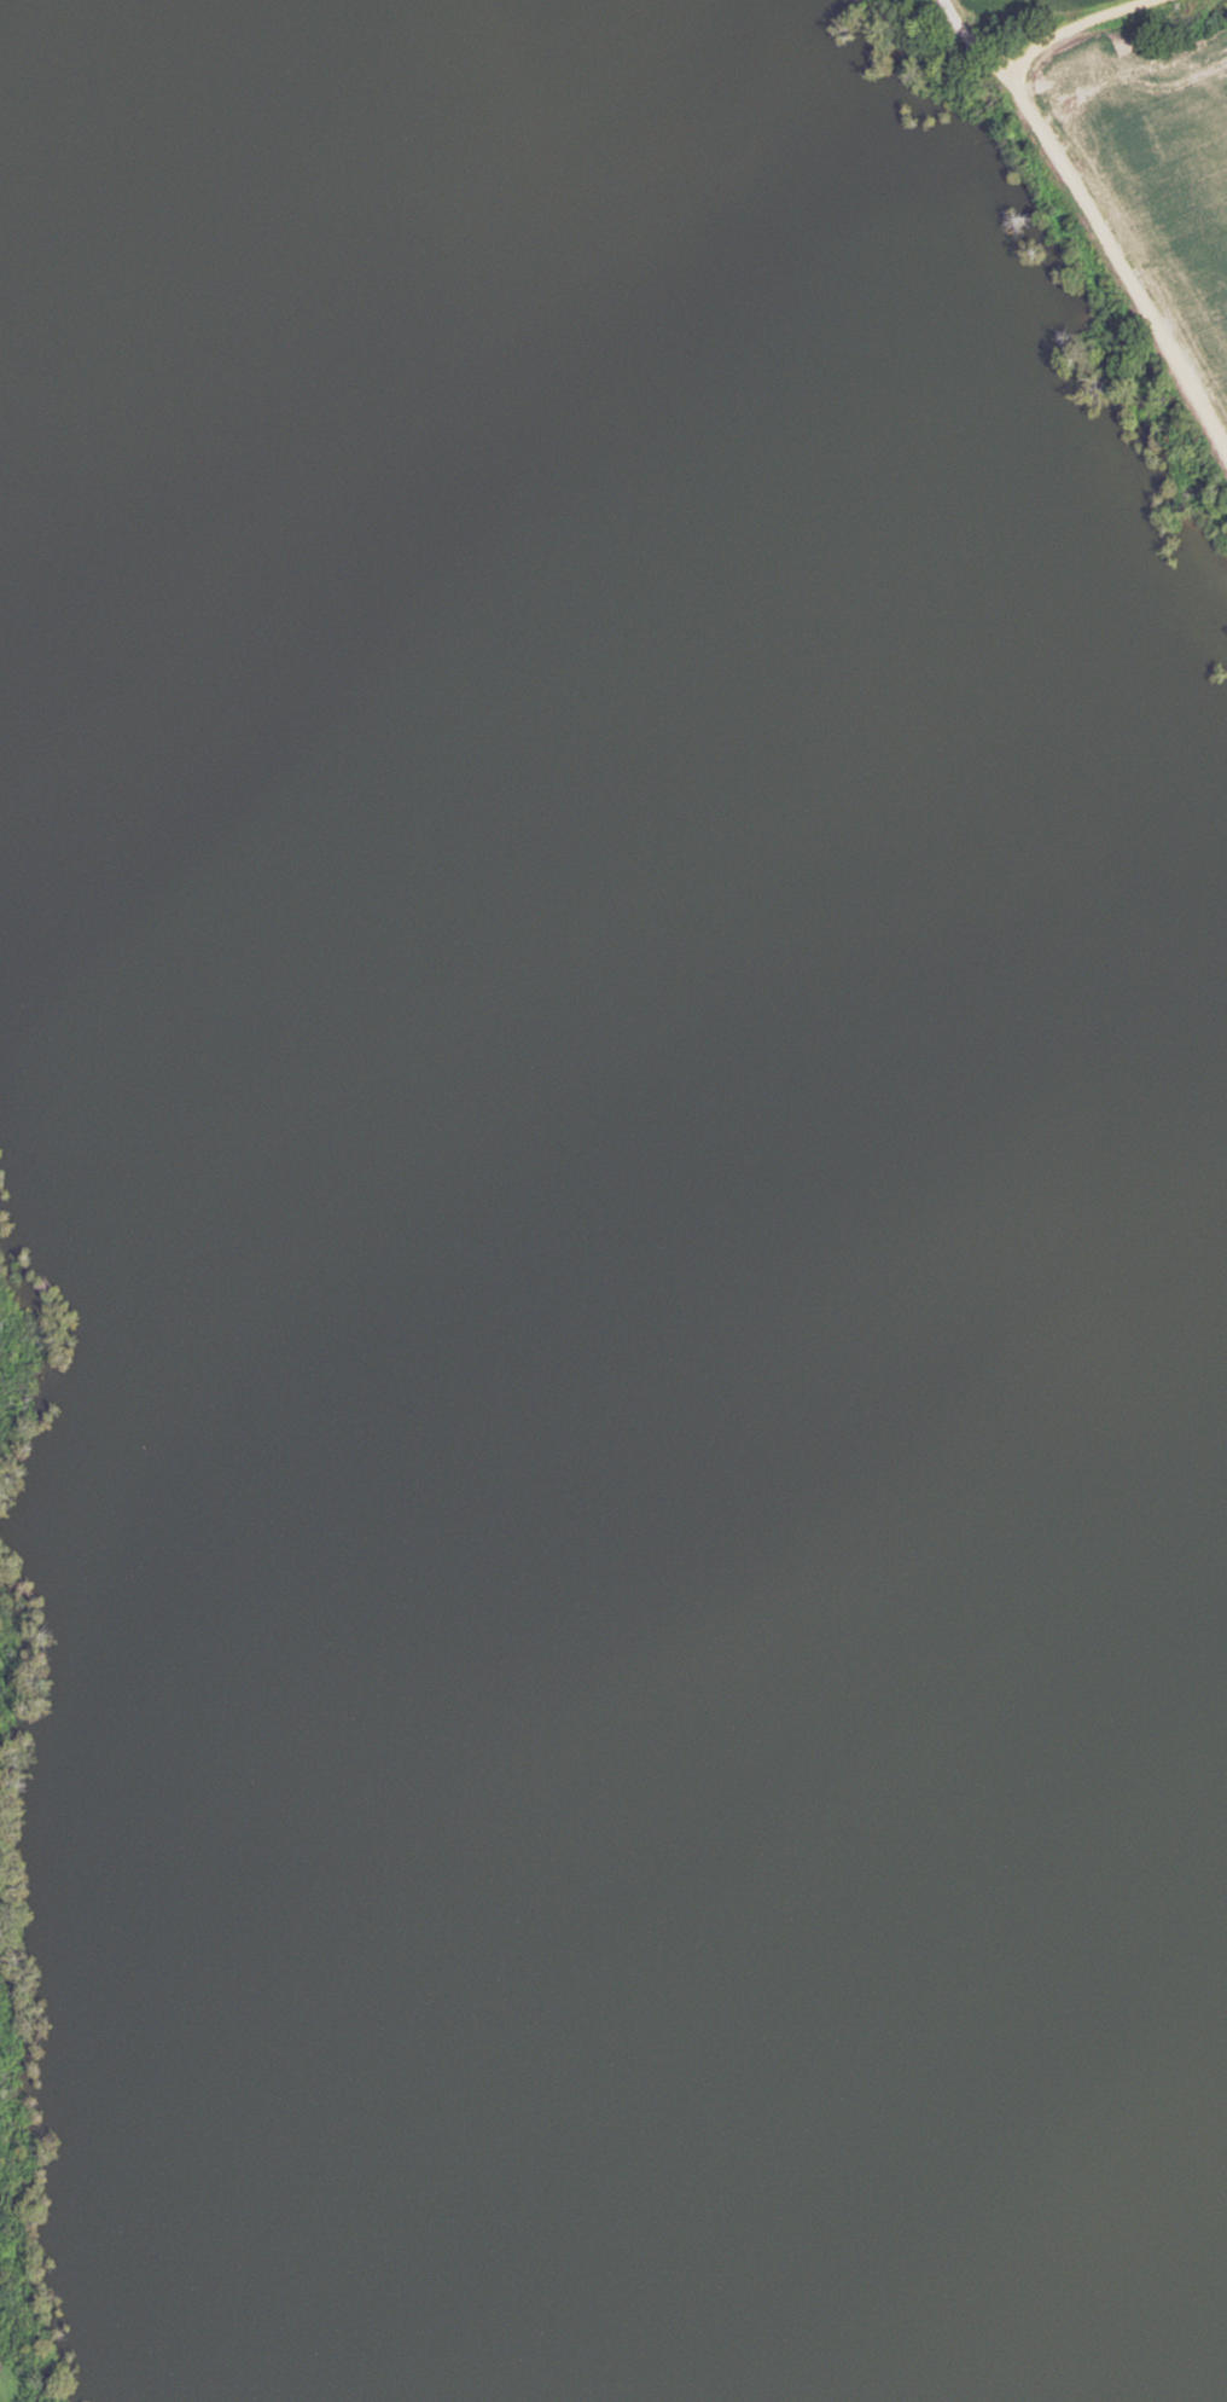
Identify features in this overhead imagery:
road: (966, 41)
road: (1076, 190)

